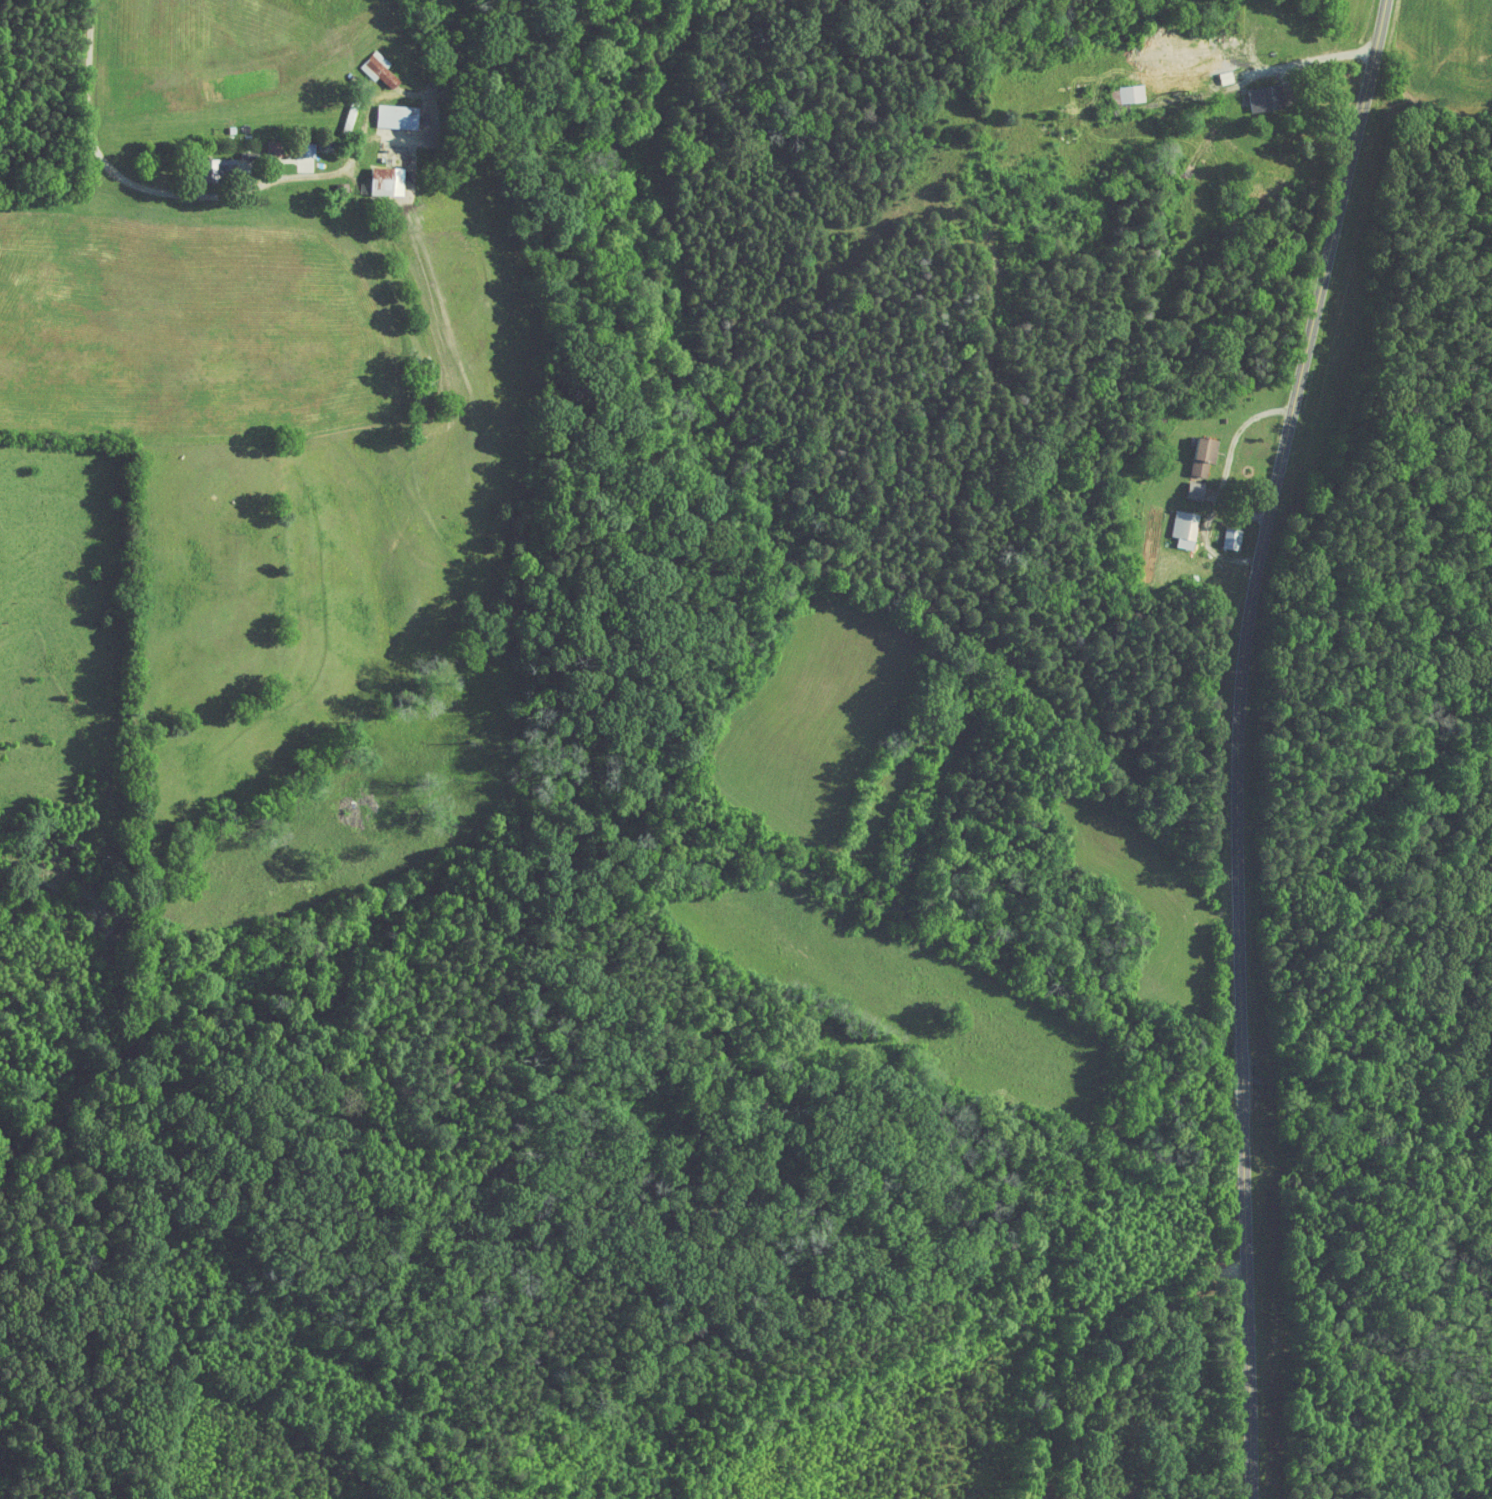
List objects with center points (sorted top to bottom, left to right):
building: (380, 68)
building: (1134, 92)
building: (1116, 95)
building: (1268, 96)
building: (399, 115)
building: (307, 148)
road: (105, 161)
building: (389, 180)
building: (1206, 455)
building: (1197, 489)
building: (1187, 527)
building: (1233, 537)
road: (1238, 741)

